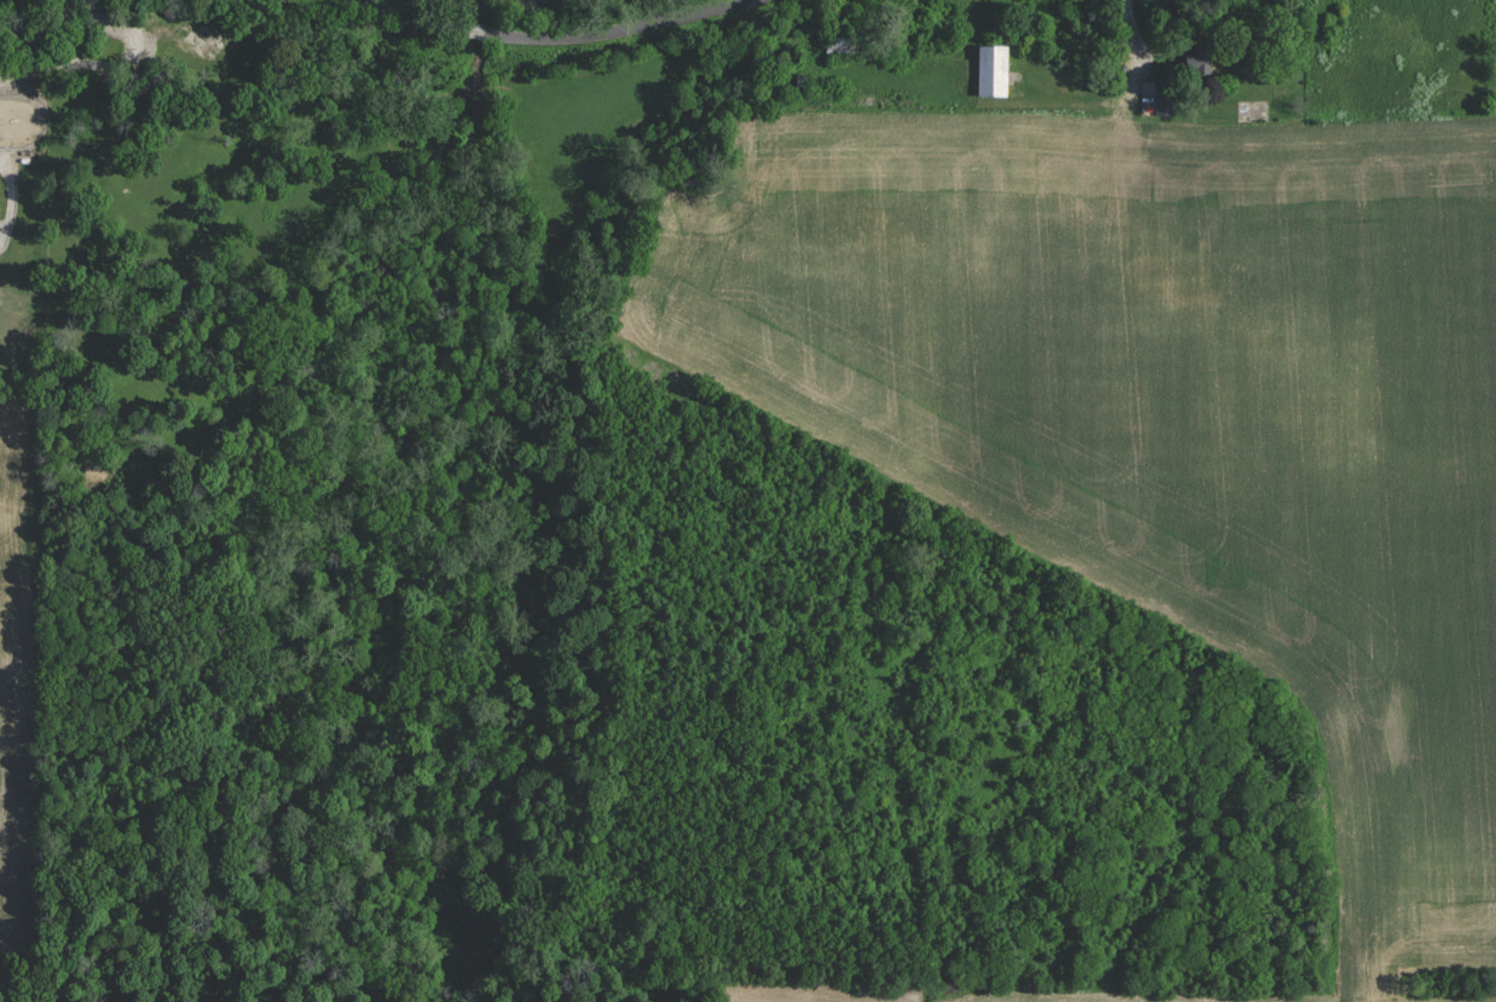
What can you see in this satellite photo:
road: (1129, 37)
road: (556, 38)
building: (1204, 60)
building: (995, 69)
road: (123, 94)
building: (1165, 97)

